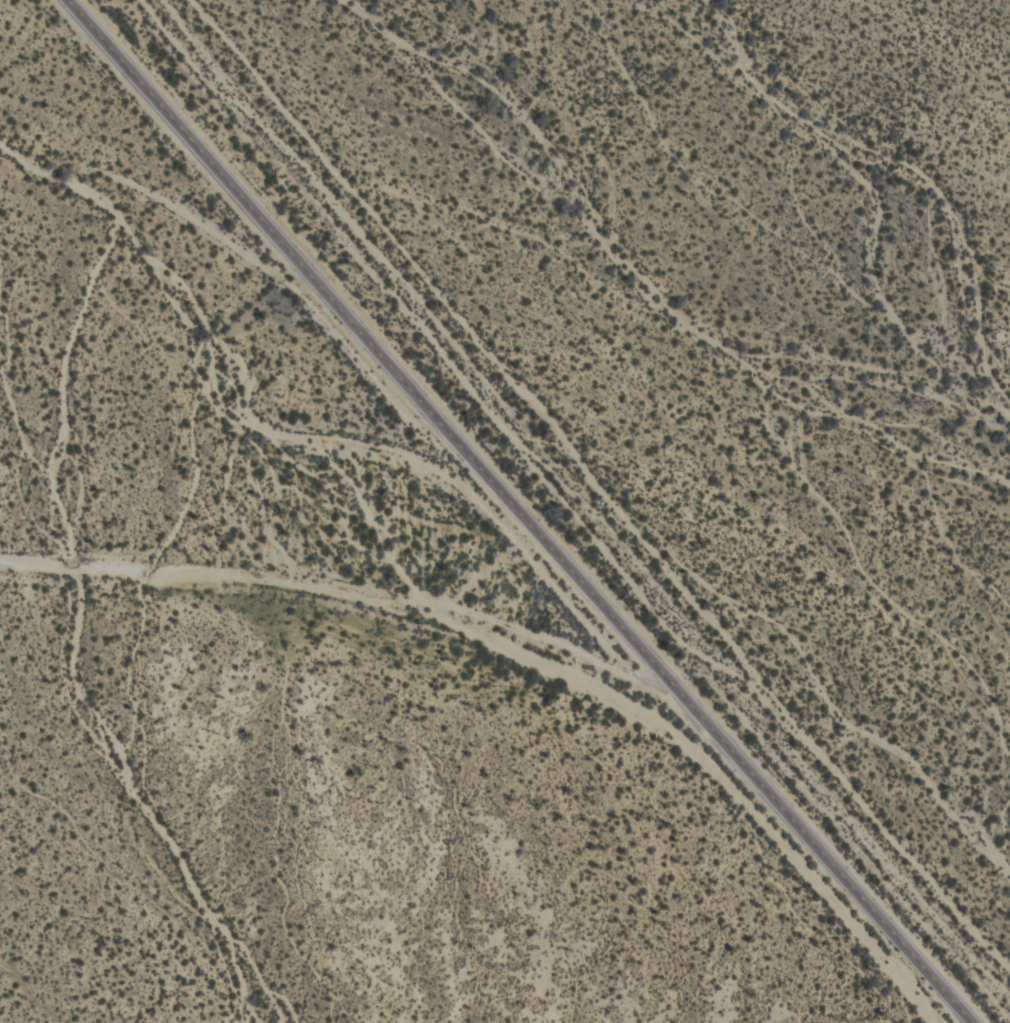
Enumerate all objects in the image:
road: (519, 511)
road: (346, 591)

